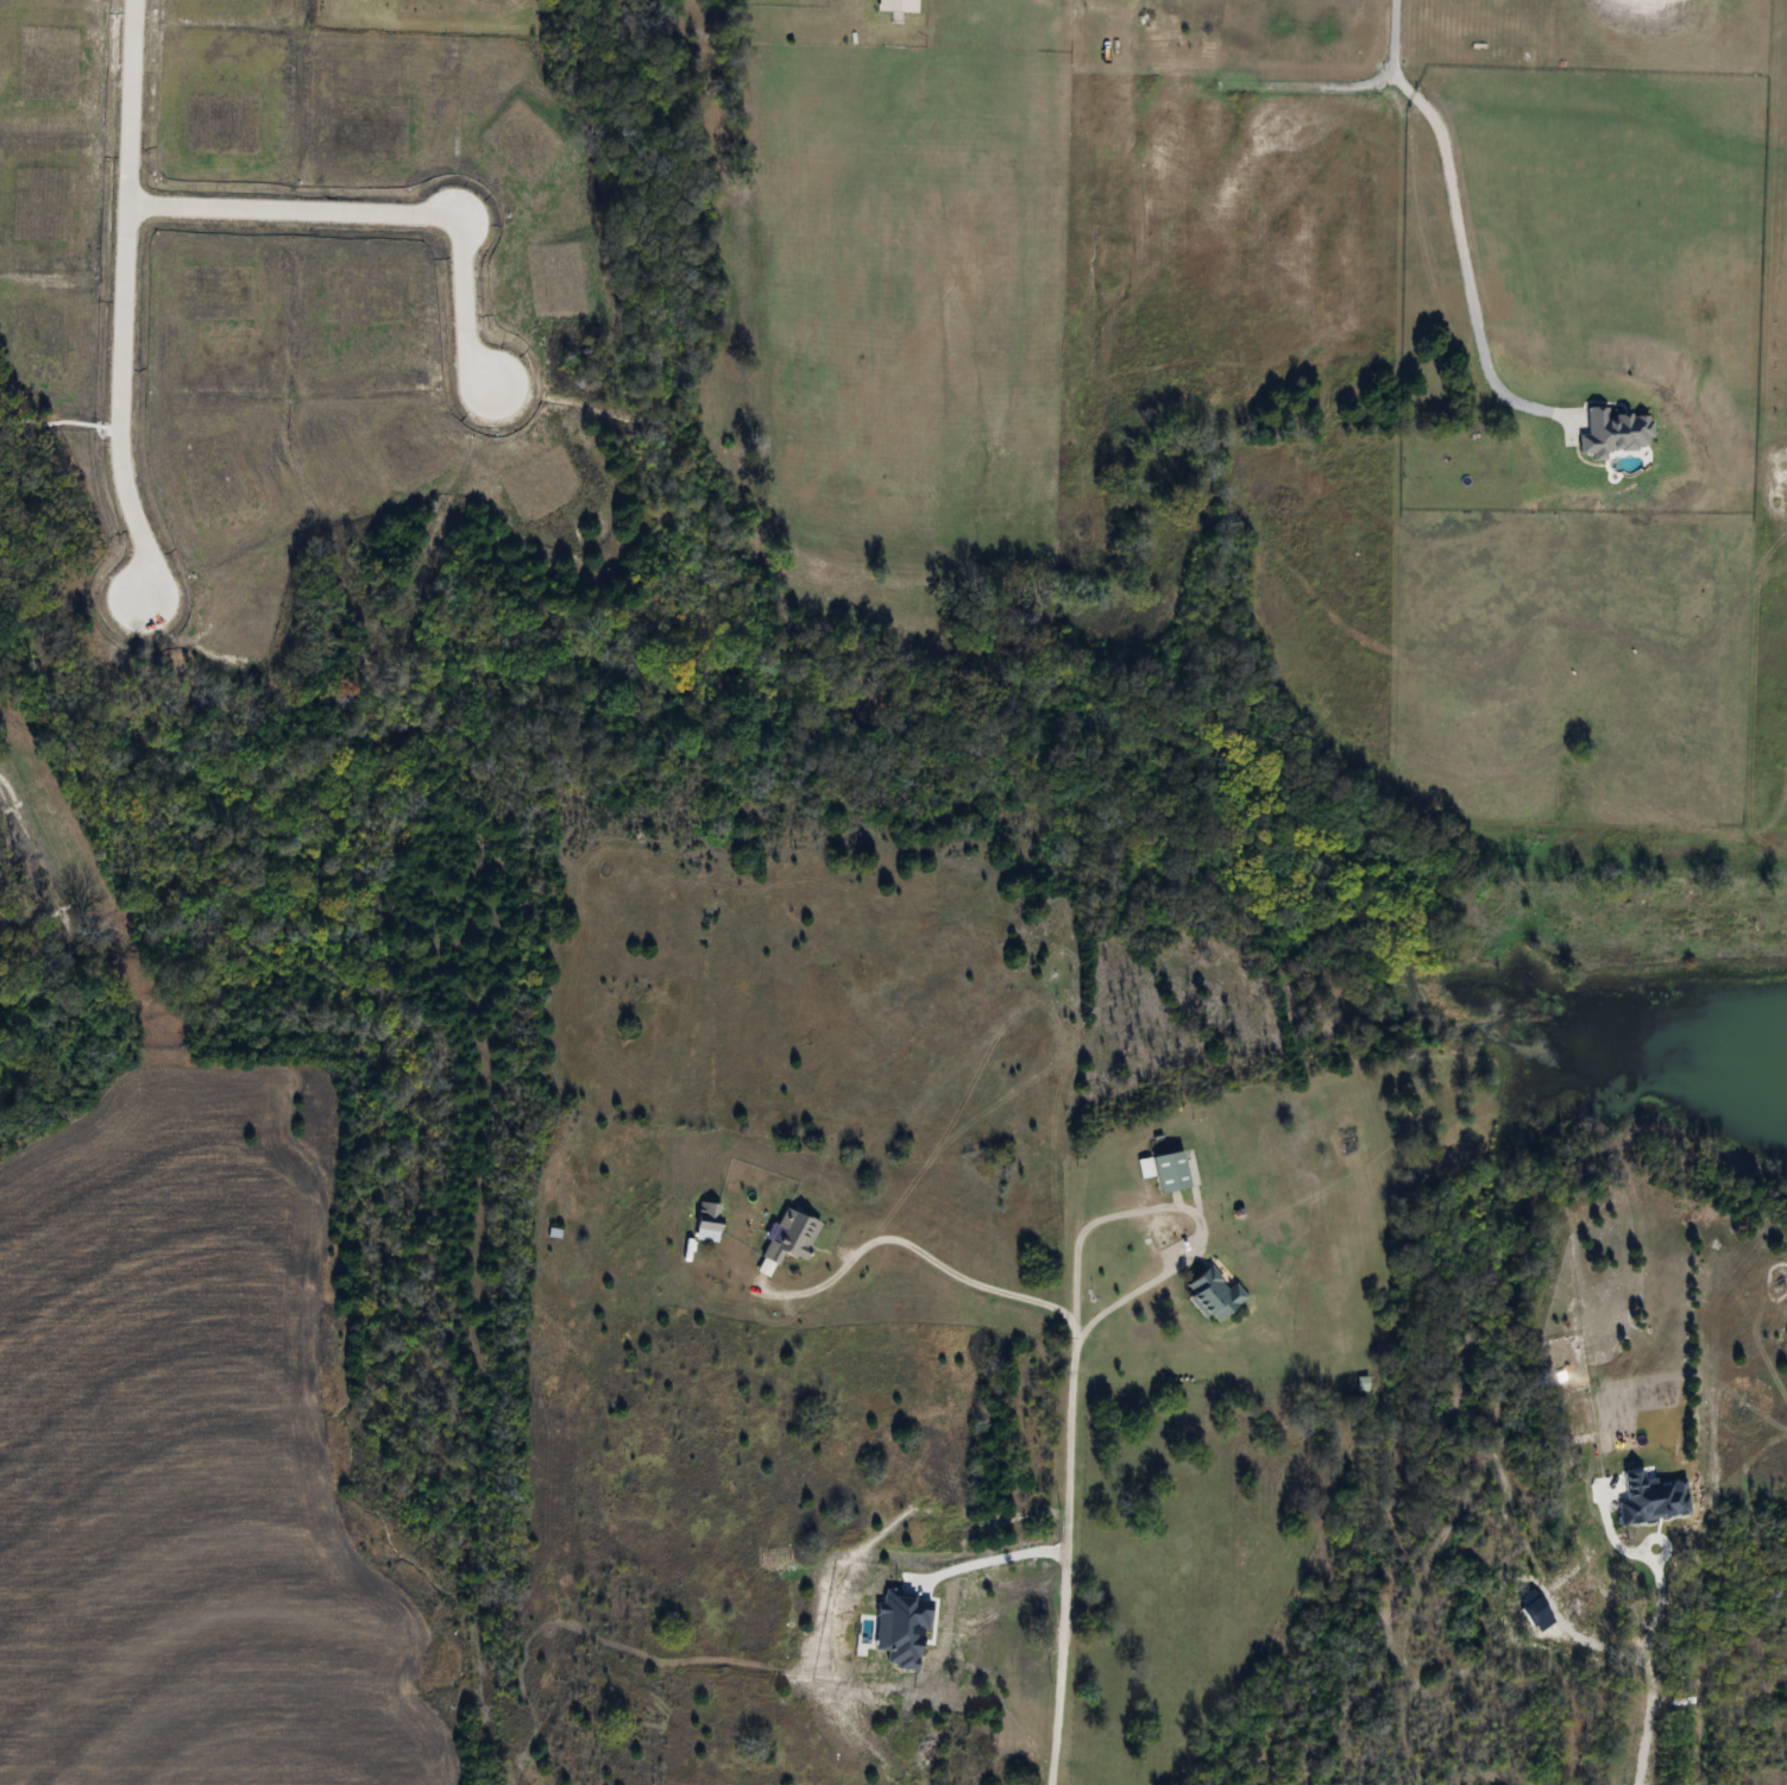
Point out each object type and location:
building: (895, 6)
road: (1454, 218)
building: (1169, 1170)
building: (706, 1215)
building: (788, 1234)
road: (1196, 1244)
road: (910, 1249)
building: (1212, 1294)
road: (1061, 1511)
road: (998, 1598)
road: (1653, 1620)

